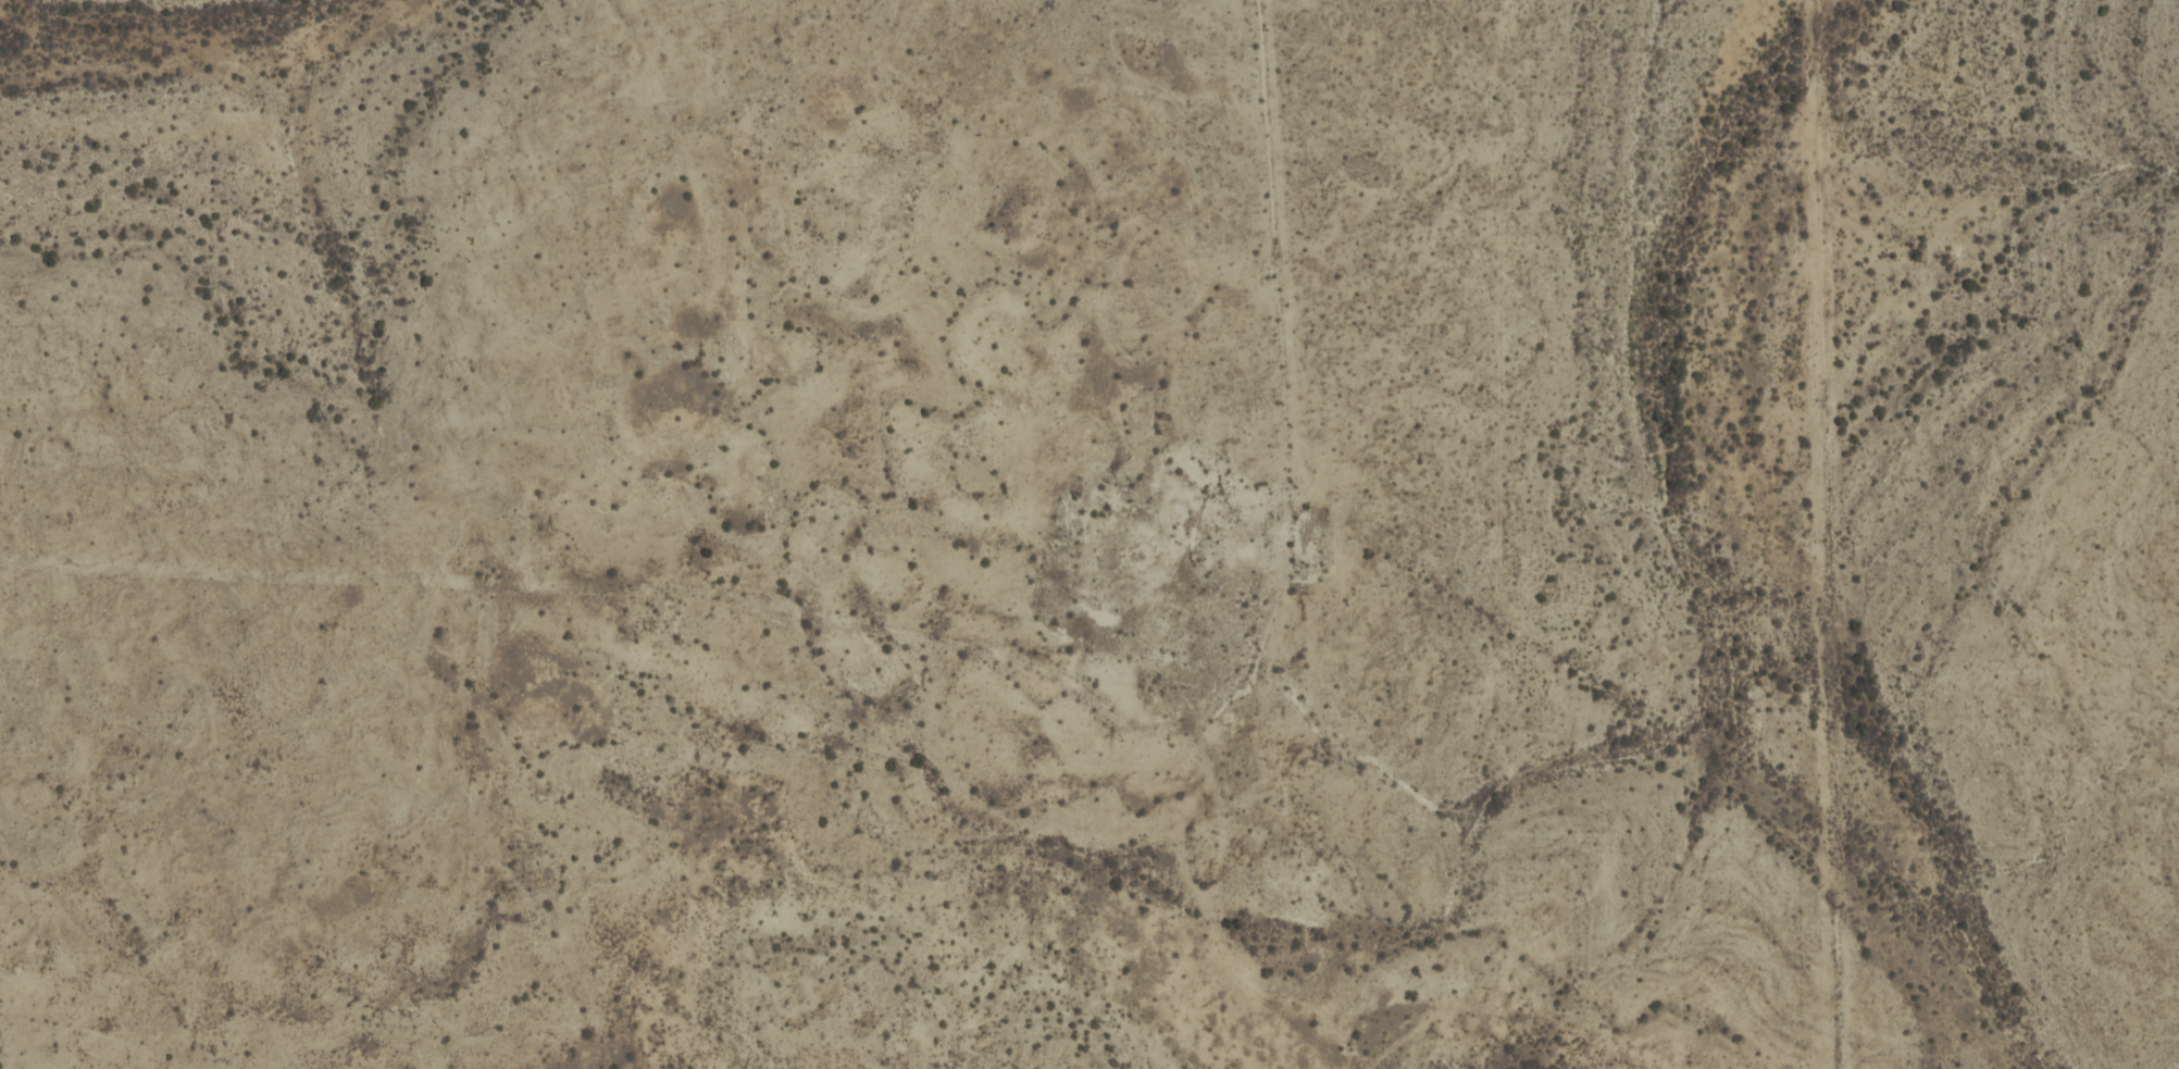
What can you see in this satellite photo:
park: (1994, 529)

